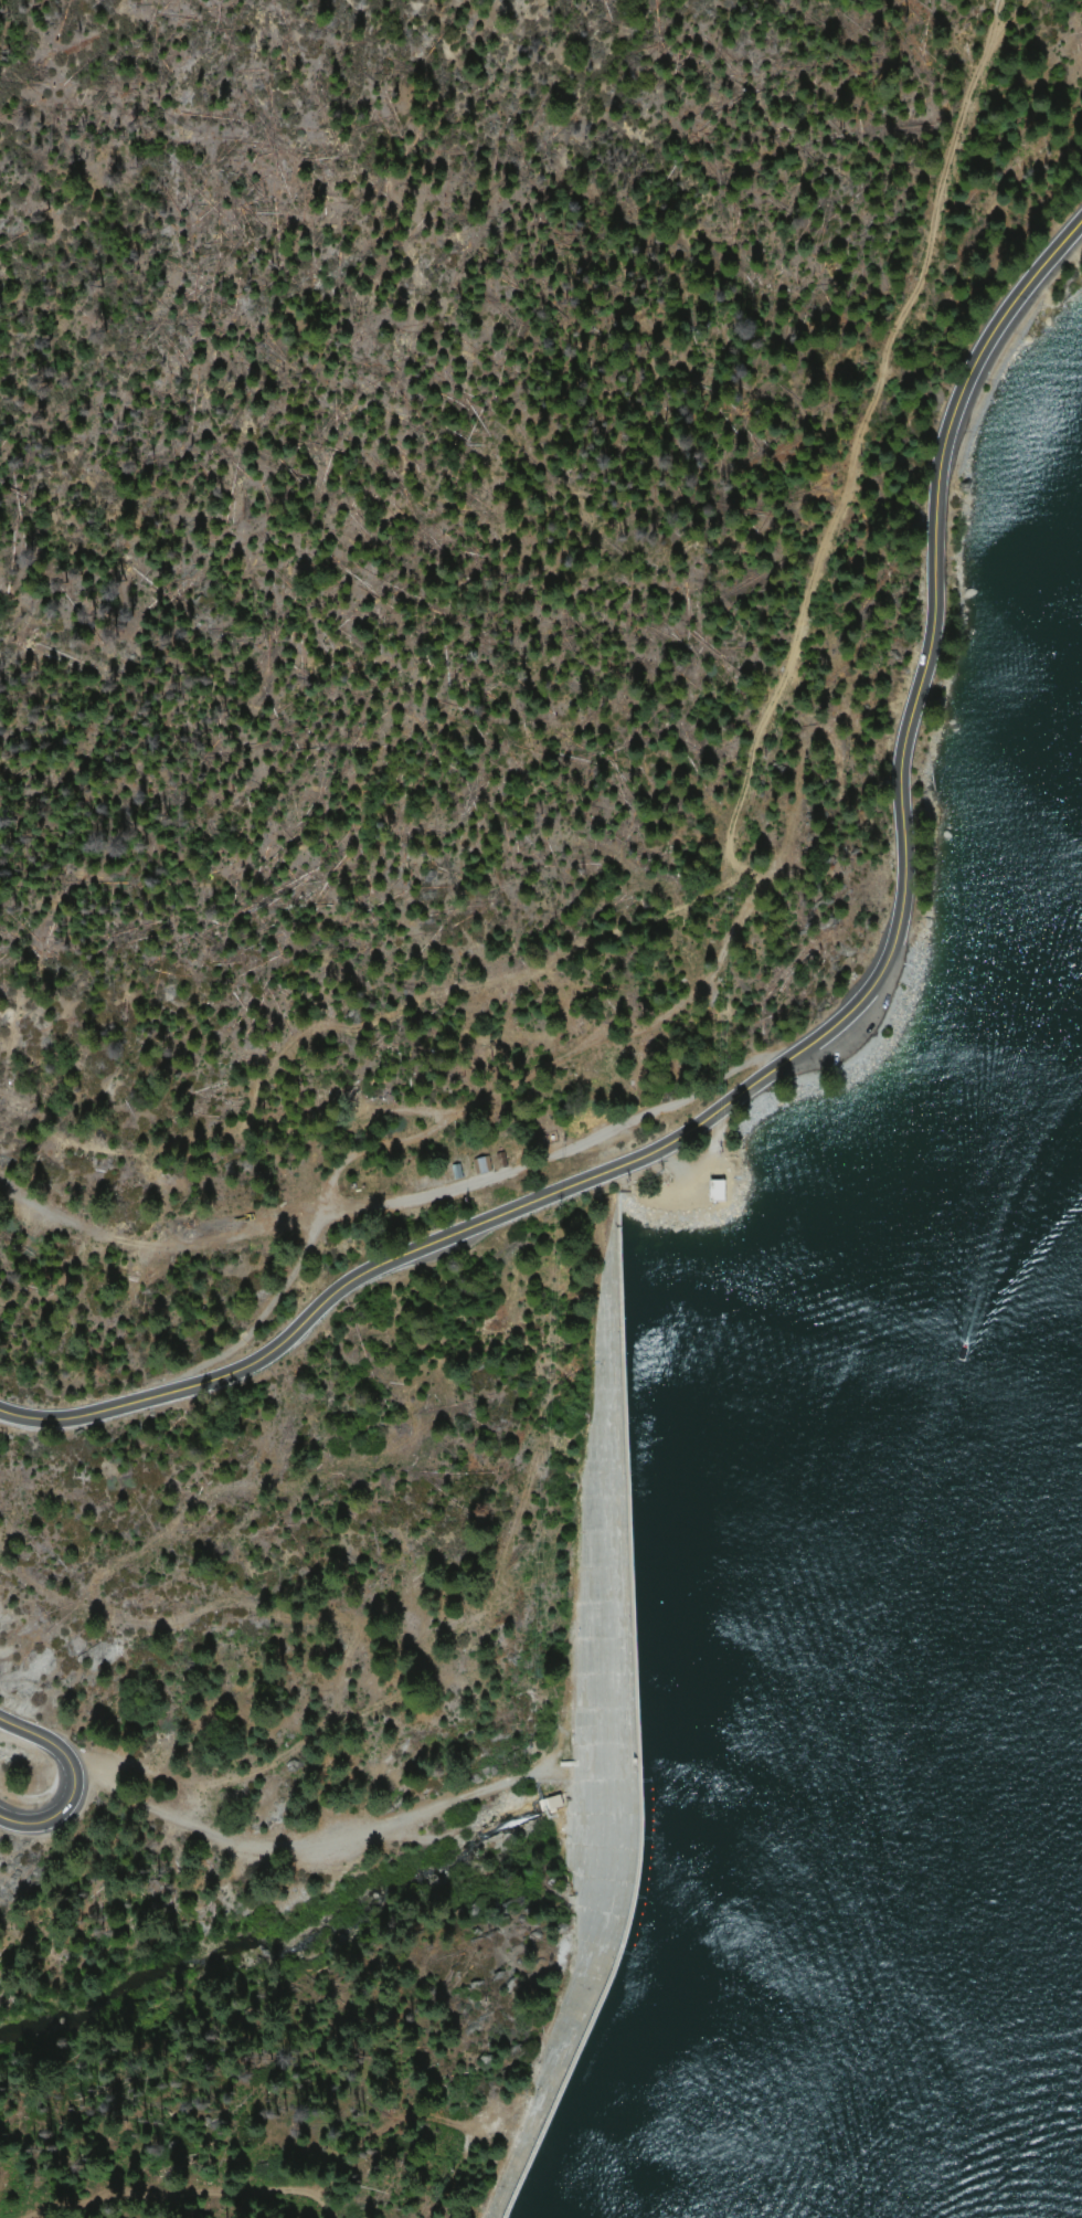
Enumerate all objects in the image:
road: (806, 1039)
road: (439, 1192)
building: (693, 1200)
road: (151, 1235)
dam: (594, 1762)
road: (68, 1777)
road: (290, 1842)

